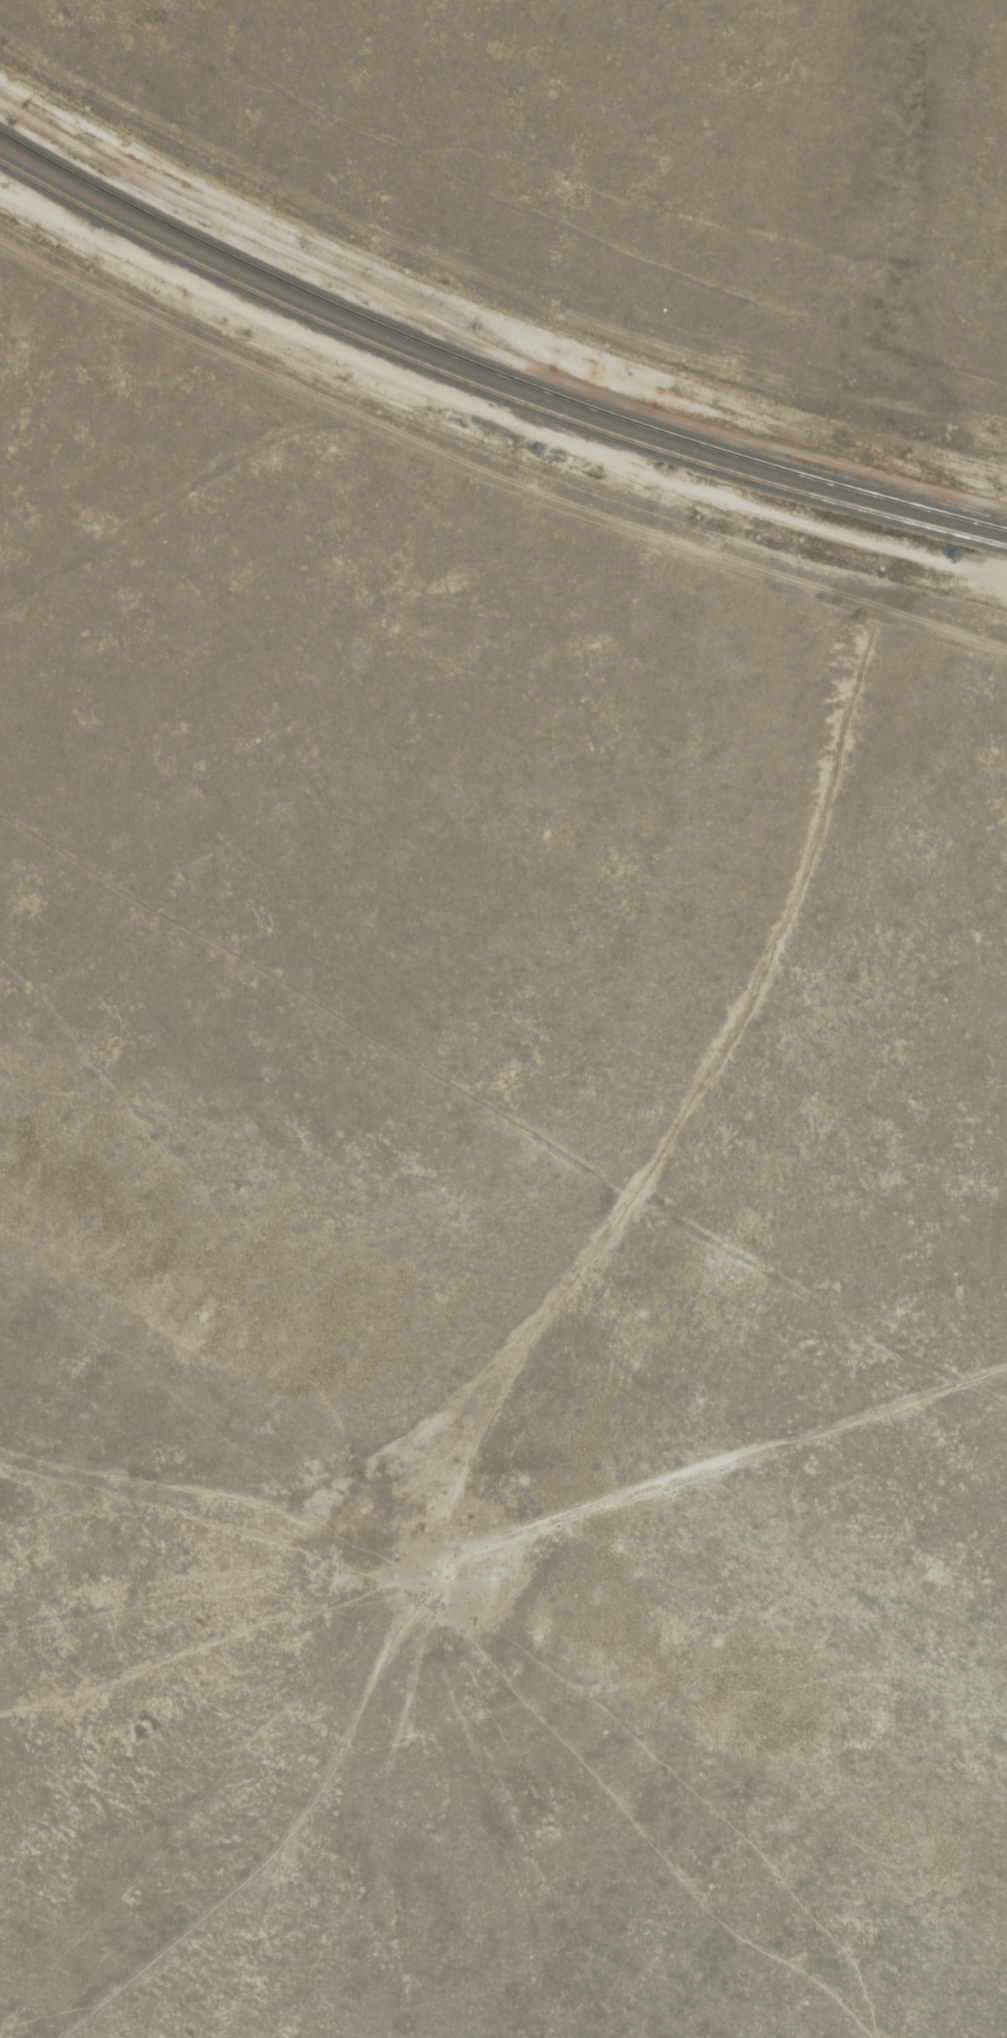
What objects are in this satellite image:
railway: (488, 368)
railway: (489, 390)
road: (502, 486)

